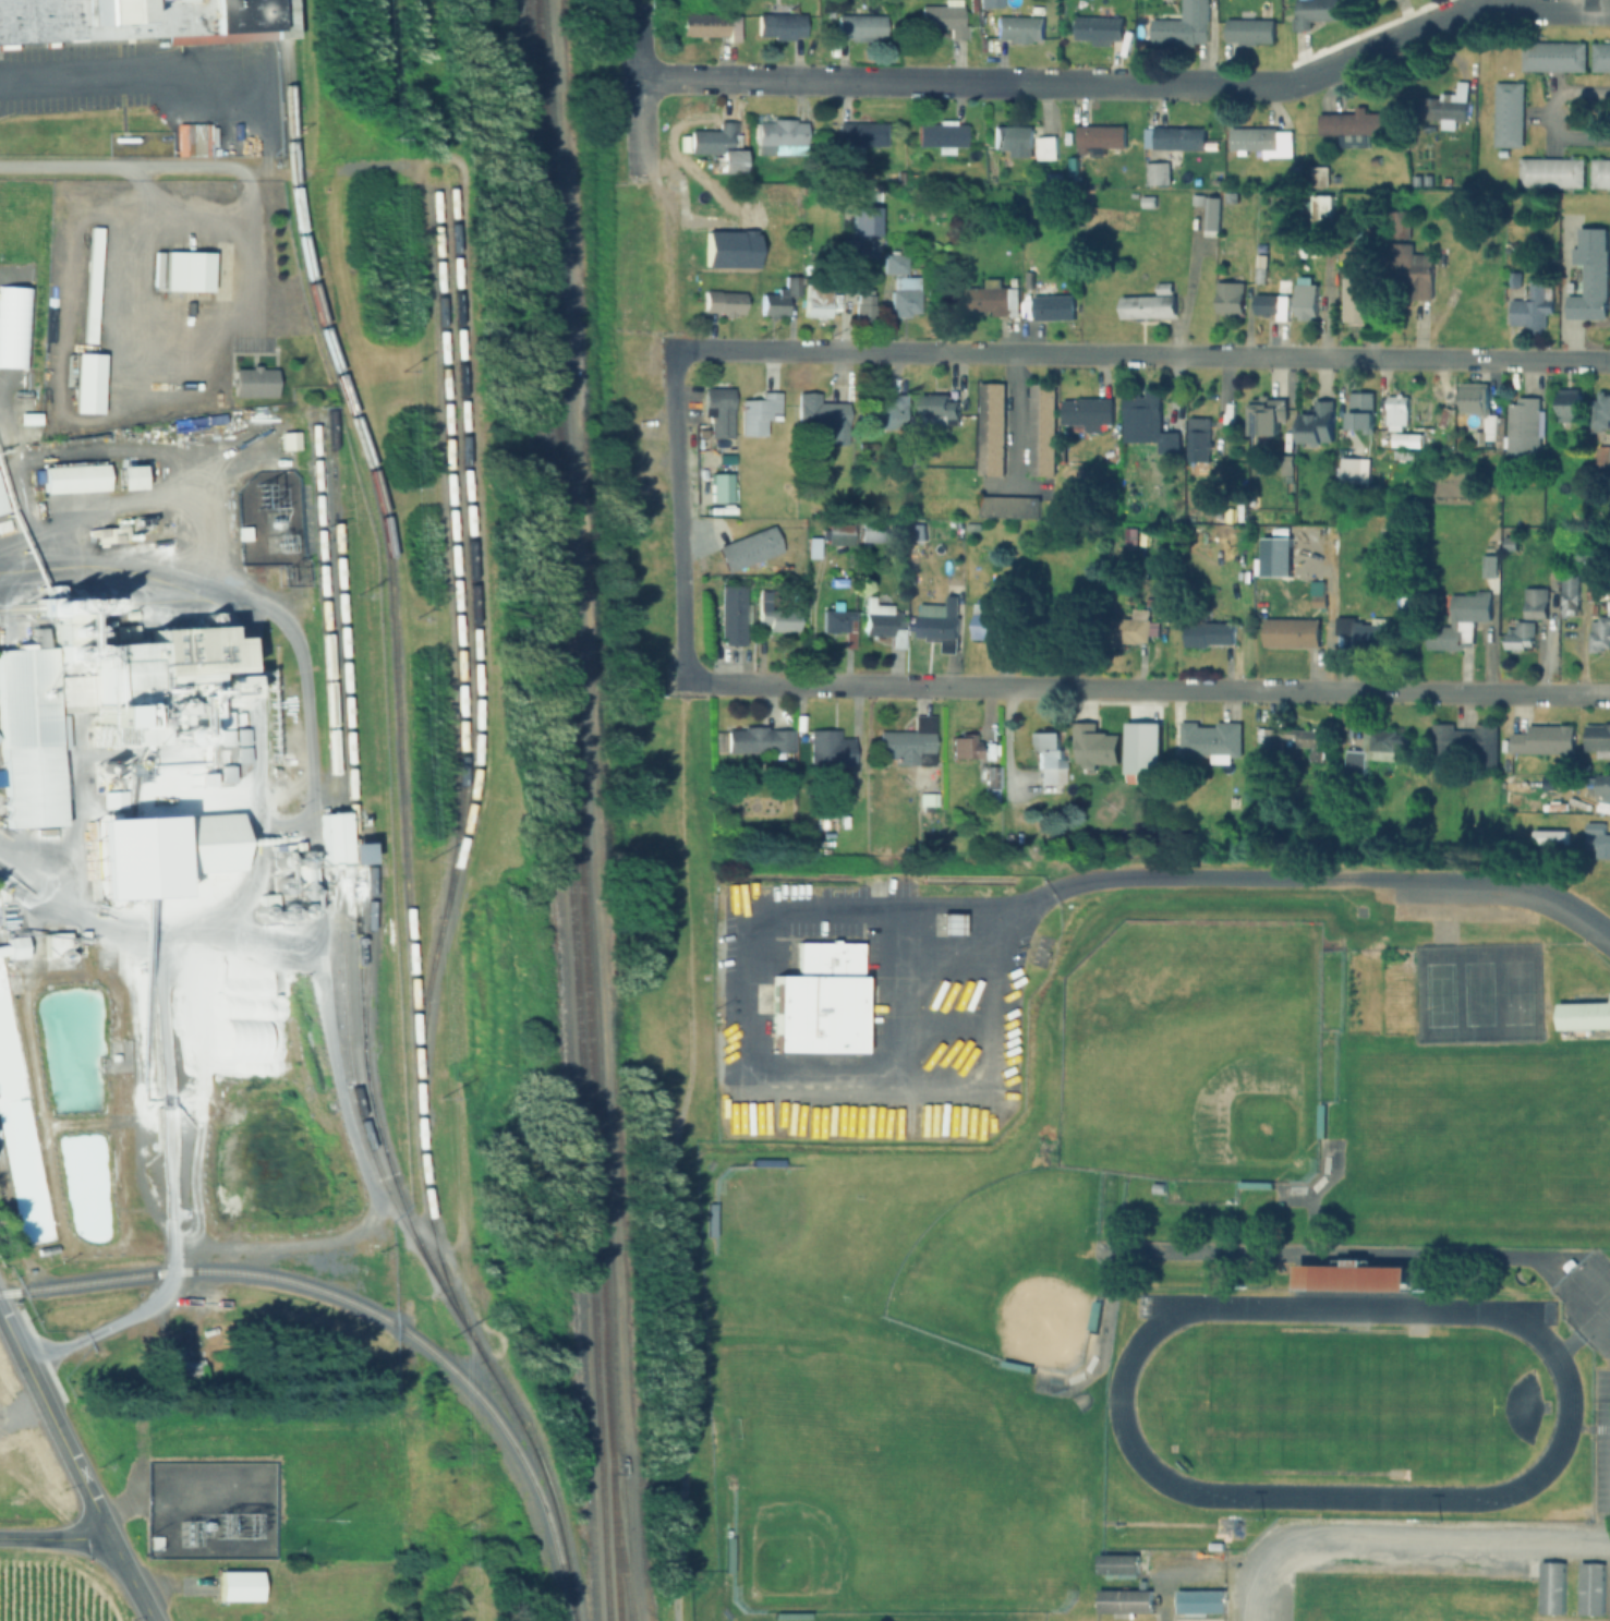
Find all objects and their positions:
building: (989, 3)
building: (830, 11)
building: (1314, 12)
building: (945, 17)
railway: (283, 19)
building: (144, 20)
building: (702, 25)
building: (1187, 25)
building: (779, 26)
building: (860, 26)
building: (1018, 27)
building: (1099, 28)
building: (1248, 31)
building: (1551, 56)
building: (1600, 57)
road: (133, 77)
road: (1130, 85)
road: (637, 94)
building: (1445, 106)
road: (1541, 112)
building: (1508, 113)
building: (1352, 126)
building: (860, 134)
building: (941, 135)
building: (779, 137)
building: (1098, 137)
building: (1178, 137)
building: (1012, 138)
building: (1261, 142)
building: (716, 145)
building: (1045, 147)
building: (1298, 150)
building: (1502, 153)
building: (1373, 159)
road: (65, 169)
building: (1157, 172)
building: (1549, 172)
building: (1599, 173)
building: (910, 178)
building: (1426, 179)
building: (1415, 180)
building: (1148, 201)
road: (251, 209)
building: (1323, 209)
building: (1211, 216)
building: (895, 262)
building: (1411, 269)
building: (186, 270)
building: (1589, 275)
building: (90, 283)
building: (777, 297)
building: (988, 297)
building: (1230, 297)
building: (1355, 298)
building: (1305, 300)
building: (722, 301)
building: (815, 301)
building: (903, 302)
building: (1150, 303)
building: (1048, 304)
building: (1267, 304)
building: (1530, 306)
building: (863, 307)
road: (1140, 353)
building: (85, 382)
building: (252, 382)
building: (1473, 398)
building: (936, 404)
building: (1566, 404)
building: (1141, 407)
building: (1395, 410)
building: (717, 411)
building: (886, 412)
building: (1599, 412)
building: (756, 413)
building: (1086, 413)
building: (1359, 413)
building: (821, 415)
building: (1266, 416)
road: (1015, 420)
building: (1317, 422)
building: (1522, 426)
building: (1489, 428)
building: (990, 430)
building: (1042, 430)
building: (1198, 438)
building: (1476, 439)
building: (1407, 440)
building: (1146, 443)
building: (1609, 460)
building: (1285, 465)
building: (1354, 469)
building: (126, 476)
building: (73, 477)
building: (1, 505)
building: (1006, 507)
road: (676, 517)
power substation: (267, 519)
building: (871, 531)
building: (837, 534)
building: (811, 547)
building: (747, 549)
railway: (451, 555)
building: (1587, 556)
building: (1489, 566)
building: (1567, 583)
road: (213, 589)
building: (1318, 594)
building: (1535, 602)
building: (1354, 604)
railway: (322, 608)
building: (730, 615)
building: (776, 618)
building: (1460, 619)
building: (881, 621)
building: (940, 621)
building: (838, 622)
building: (991, 624)
building: (1128, 629)
building: (1291, 631)
building: (1208, 633)
building: (1598, 633)
building: (1367, 634)
building: (1520, 637)
railway: (475, 663)
road: (1150, 688)
building: (89, 700)
building: (1597, 737)
building: (758, 739)
building: (1296, 739)
building: (1544, 739)
building: (907, 740)
building: (1210, 740)
building: (1462, 743)
building: (961, 745)
building: (828, 747)
building: (1373, 749)
building: (1048, 758)
building: (1090, 758)
road: (255, 763)
building: (990, 775)
building: (1601, 787)
building: (925, 798)
railway: (565, 810)
railway: (576, 810)
building: (331, 836)
railway: (403, 837)
building: (1550, 837)
railway: (335, 838)
building: (1597, 839)
building: (175, 850)
railway: (350, 856)
road: (1311, 880)
building: (947, 923)
building: (13, 946)
park: (1476, 992)
park: (1477, 992)
park: (1515, 992)
road: (889, 993)
park: (1439, 994)
building: (816, 1001)
building: (1584, 1016)
park: (1193, 1051)
road: (747, 1070)
road: (162, 1096)
railway: (367, 1144)
road: (671, 1150)
park: (1550, 1161)
road: (1311, 1201)
park: (797, 1251)
road: (1280, 1254)
park: (1009, 1269)
building: (1355, 1279)
stadium: (1355, 1279)
railway: (336, 1295)
building: (1094, 1316)
road: (102, 1323)
building: (181, 1372)
track: (1118, 1400)
park: (1352, 1406)
park: (883, 1422)
road: (56, 1426)
parking lot: (1601, 1442)
park: (854, 1492)
power substation: (208, 1510)
road: (1404, 1537)
road: (57, 1539)
railway: (618, 1545)
building: (1214, 1546)
building: (727, 1555)
parking lot: (1381, 1563)
building: (1117, 1564)
road: (134, 1581)
building: (237, 1586)
building: (1589, 1588)
building: (1544, 1589)
crop: (51, 1590)
building: (1124, 1600)
building: (1199, 1601)

